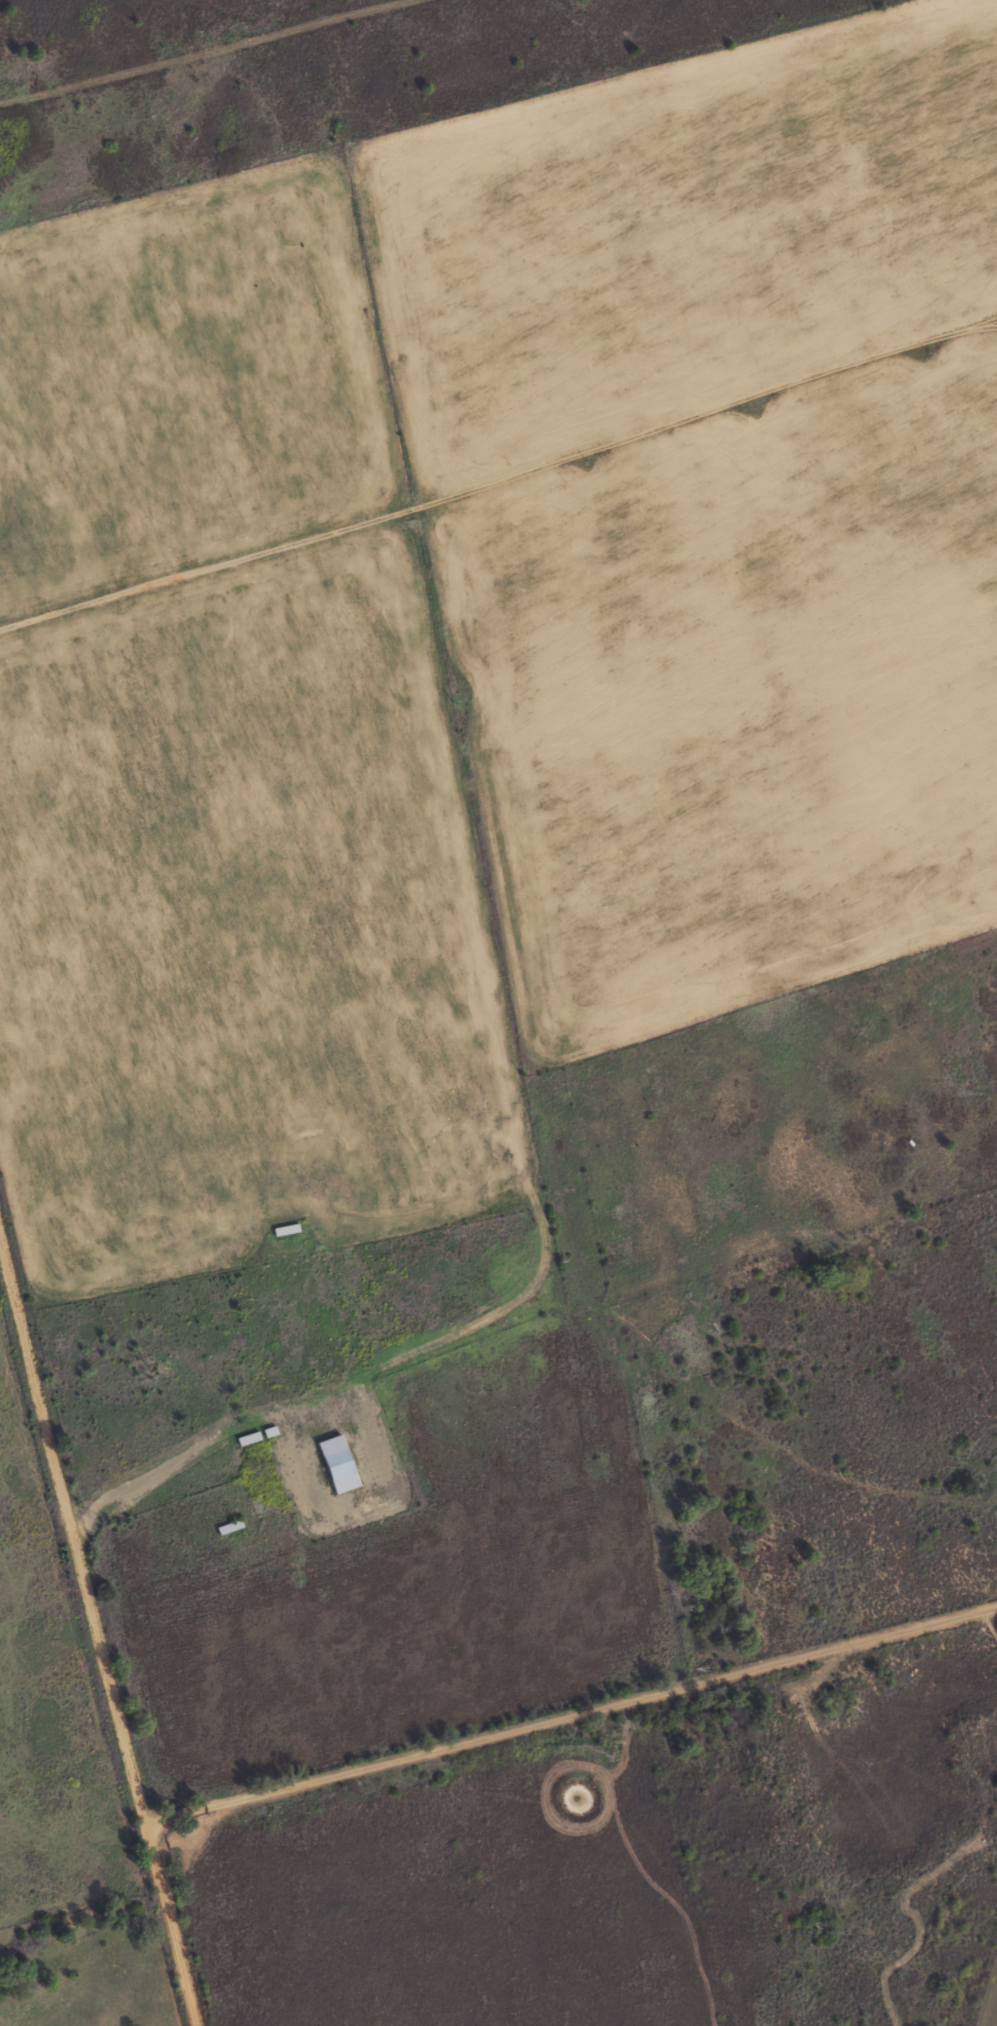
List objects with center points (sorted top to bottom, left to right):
road: (979, 321)
road: (979, 327)
road: (482, 484)
building: (266, 1431)
building: (244, 1438)
building: (333, 1463)
building: (224, 1526)
road: (95, 1646)
road: (568, 1714)
road: (987, 1995)

